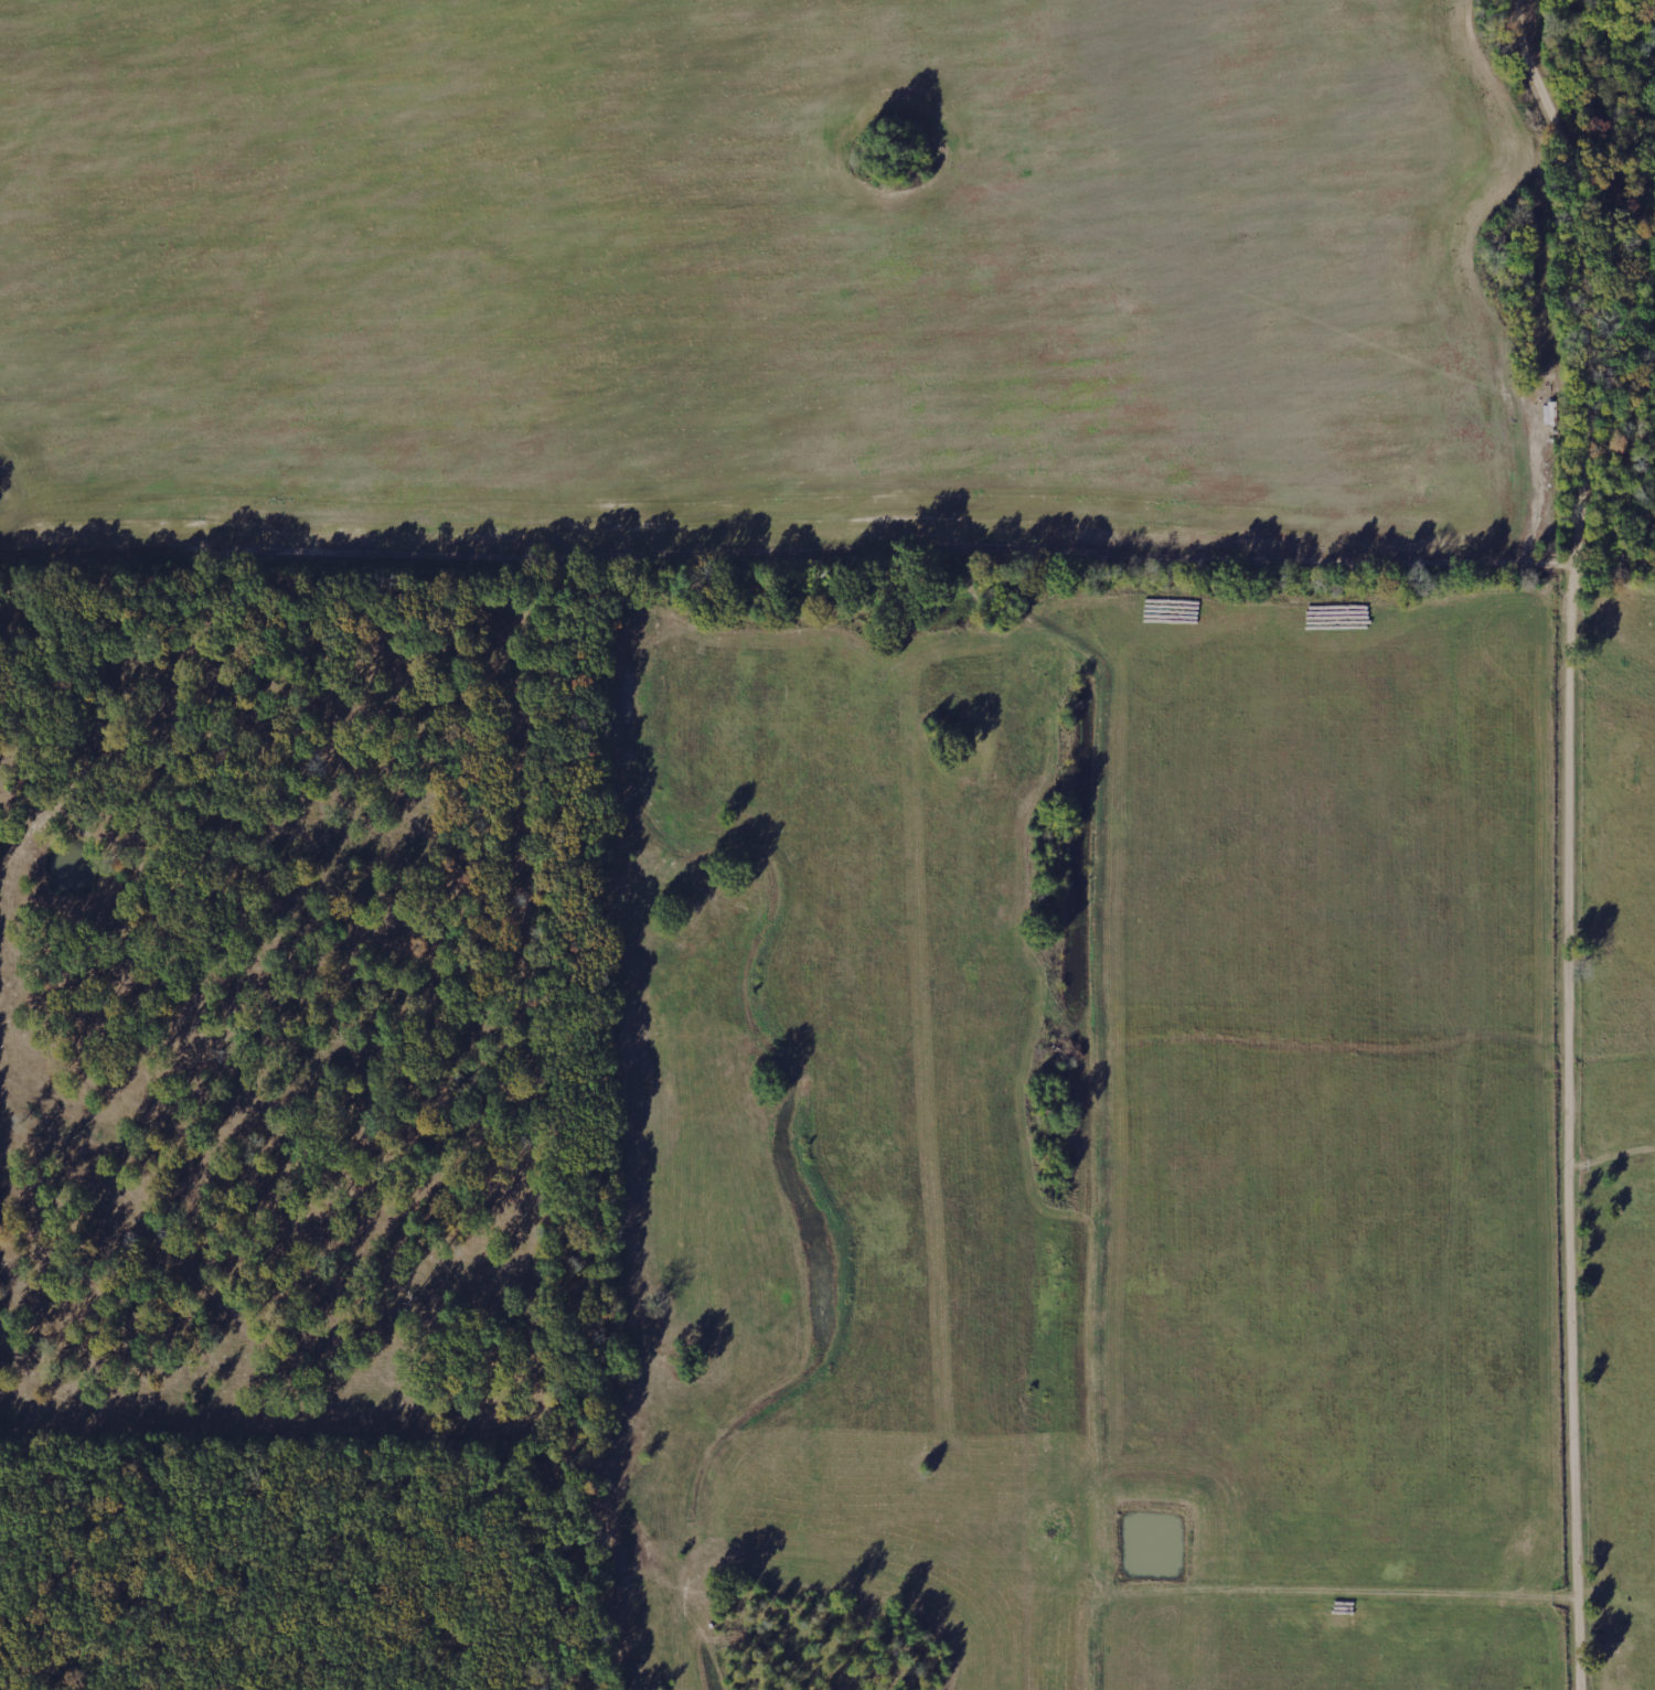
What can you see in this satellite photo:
road: (1574, 838)

